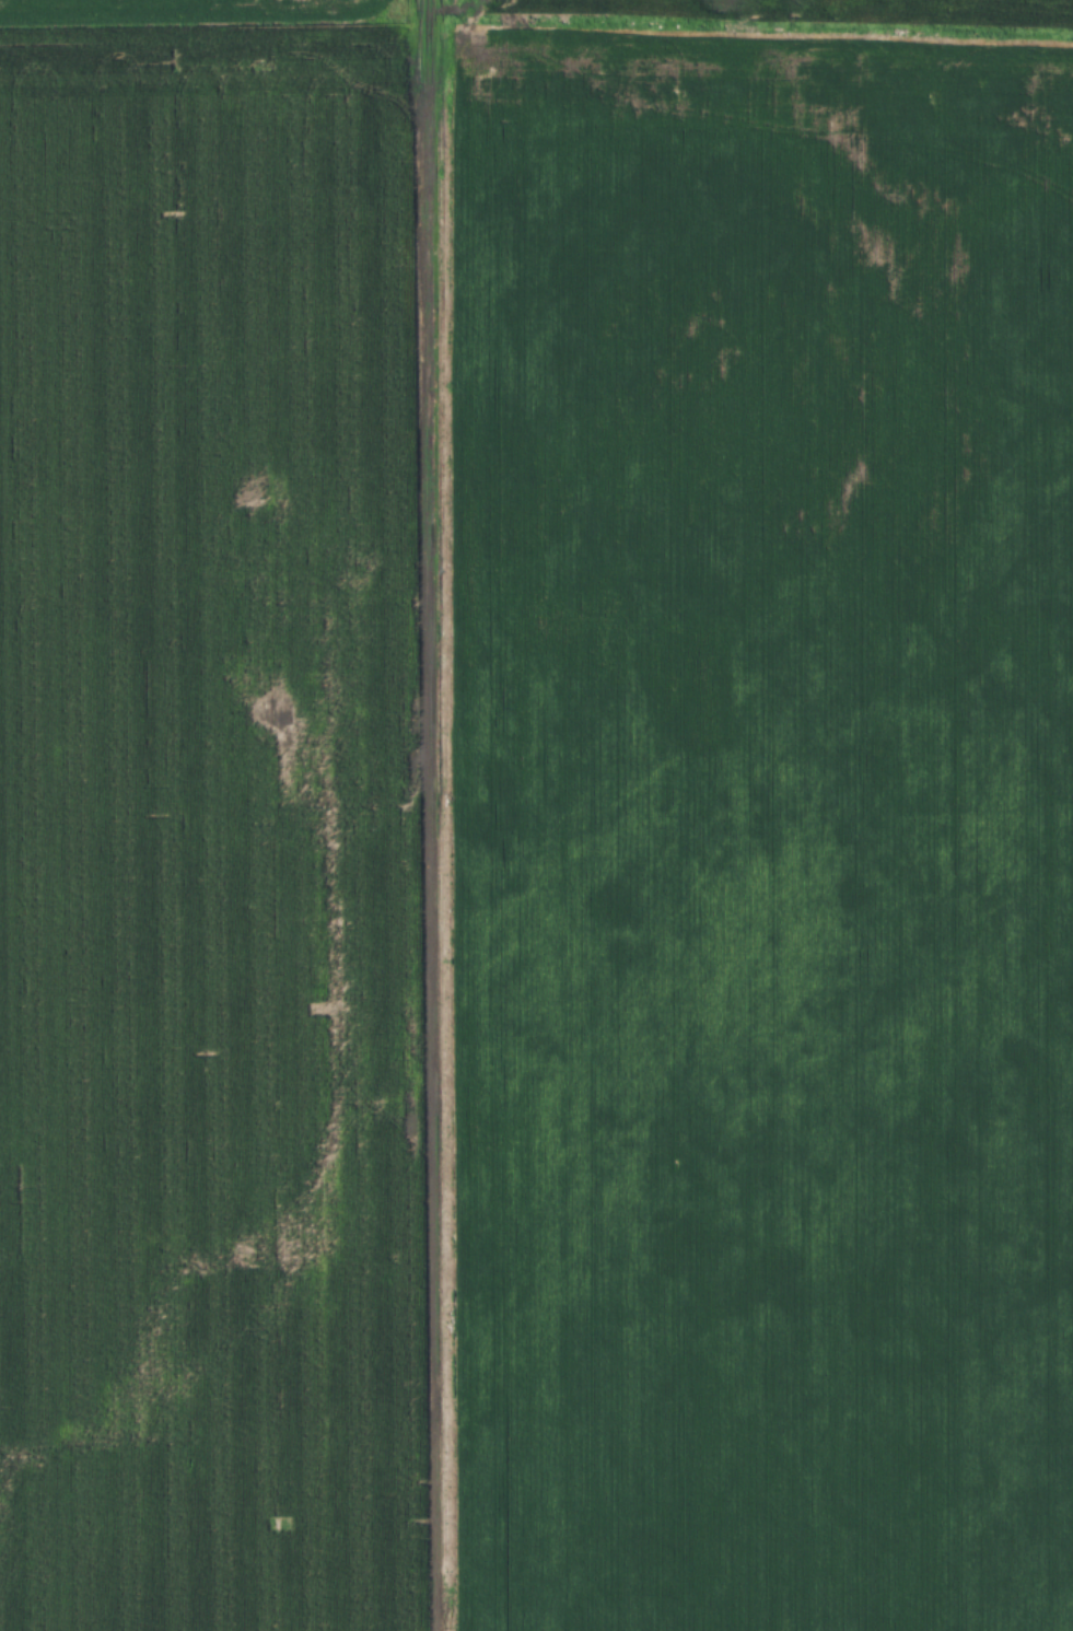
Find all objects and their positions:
road: (428, 815)

